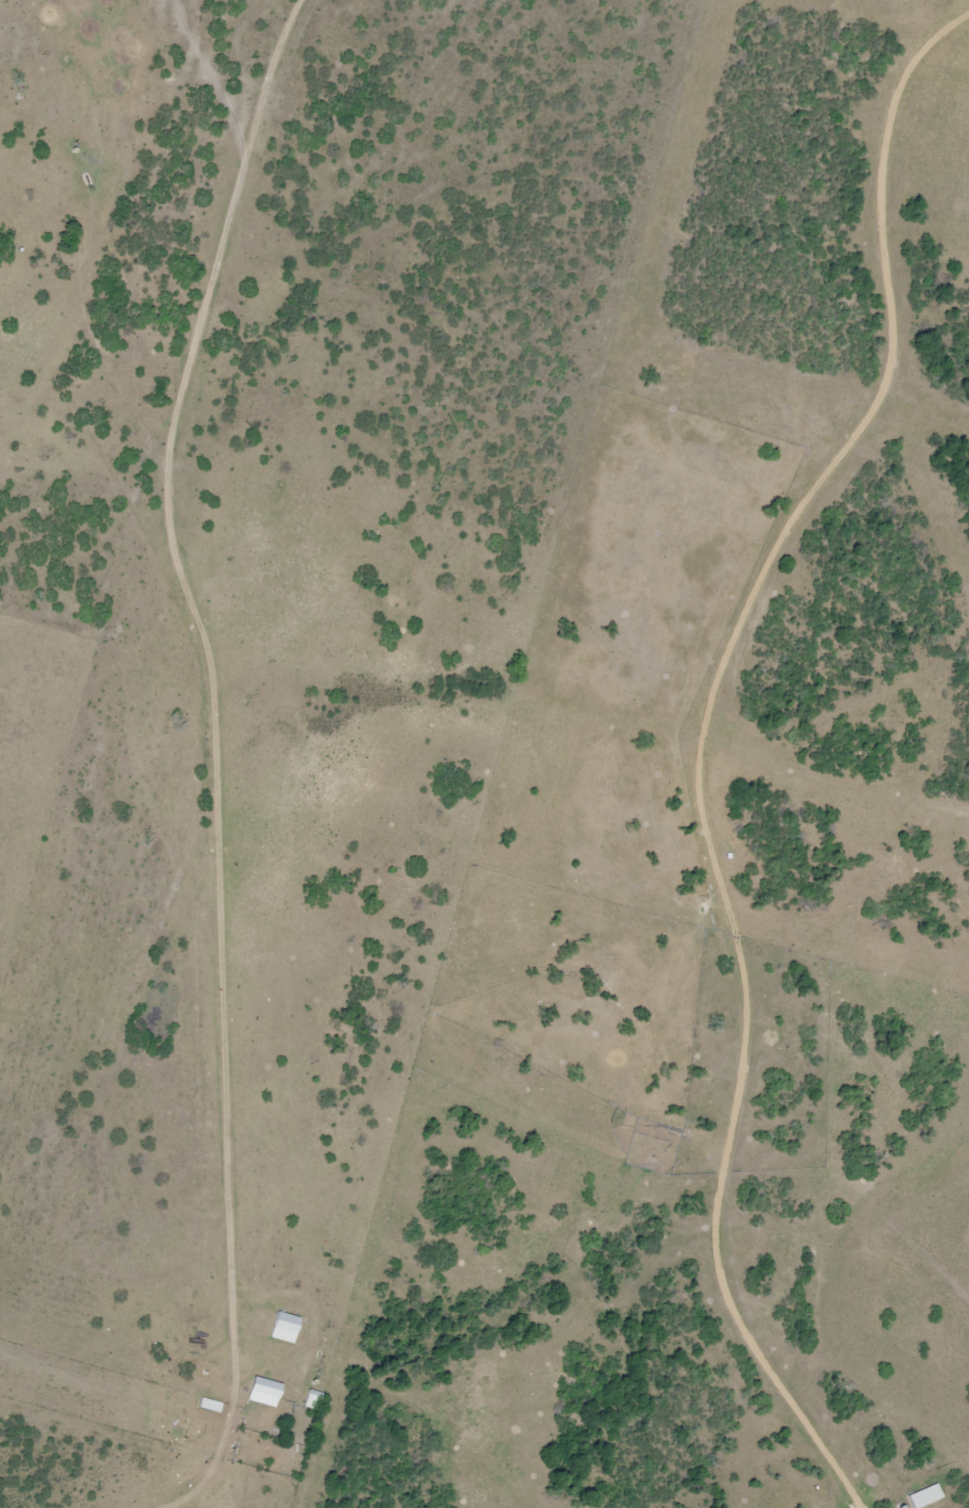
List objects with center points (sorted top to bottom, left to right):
road: (236, 751)
building: (286, 1328)
building: (264, 1392)
building: (315, 1400)
building: (212, 1406)
building: (924, 1496)

